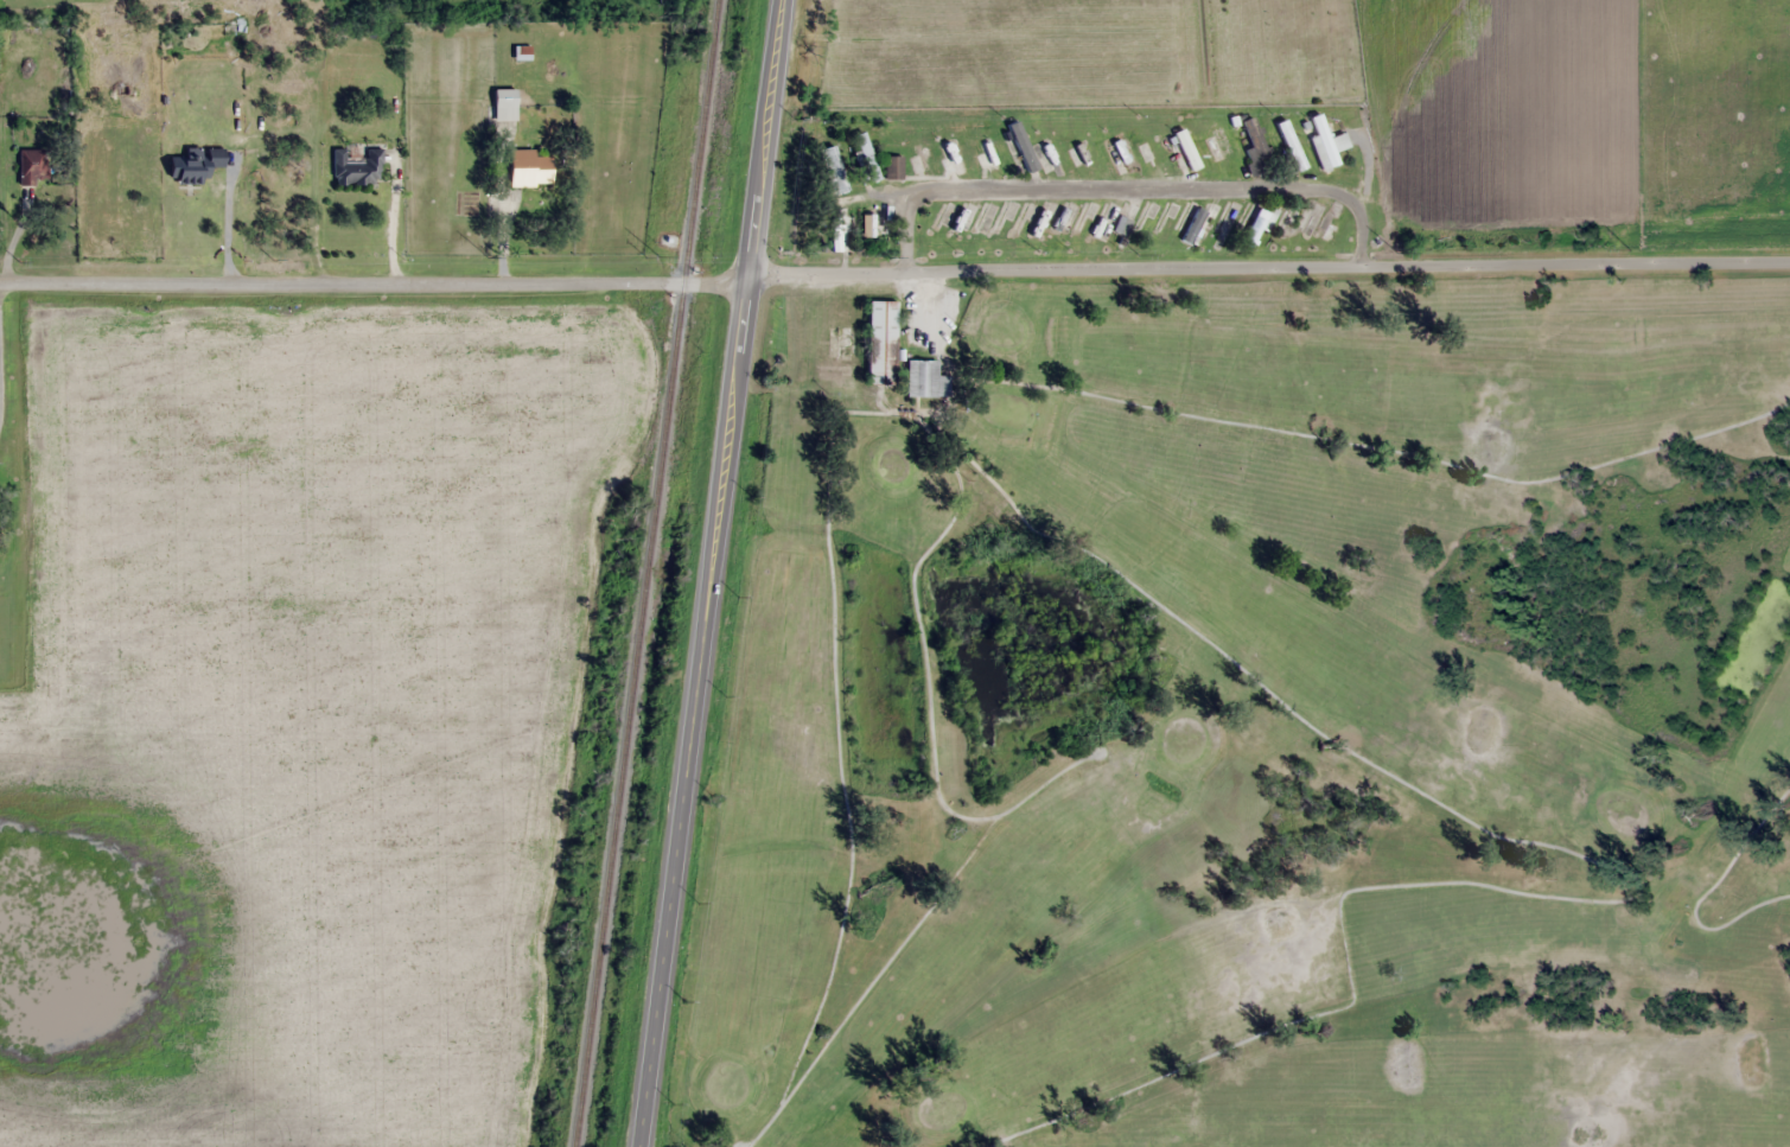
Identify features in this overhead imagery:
building: (231, 28)
building: (503, 103)
building: (1216, 142)
building: (1253, 142)
building: (1324, 142)
building: (1083, 147)
building: (983, 149)
building: (1184, 149)
building: (1049, 151)
building: (921, 153)
building: (948, 153)
building: (865, 155)
building: (195, 164)
building: (31, 166)
building: (892, 166)
building: (355, 167)
building: (528, 167)
building: (832, 168)
road: (1165, 193)
building: (935, 218)
building: (1158, 222)
building: (977, 223)
building: (1197, 223)
building: (1257, 224)
building: (1301, 227)
building: (1324, 227)
building: (1056, 228)
building: (1106, 228)
building: (833, 230)
road: (1591, 255)
road: (1072, 262)
road: (377, 283)
building: (893, 353)
railway: (646, 573)
road: (716, 573)

